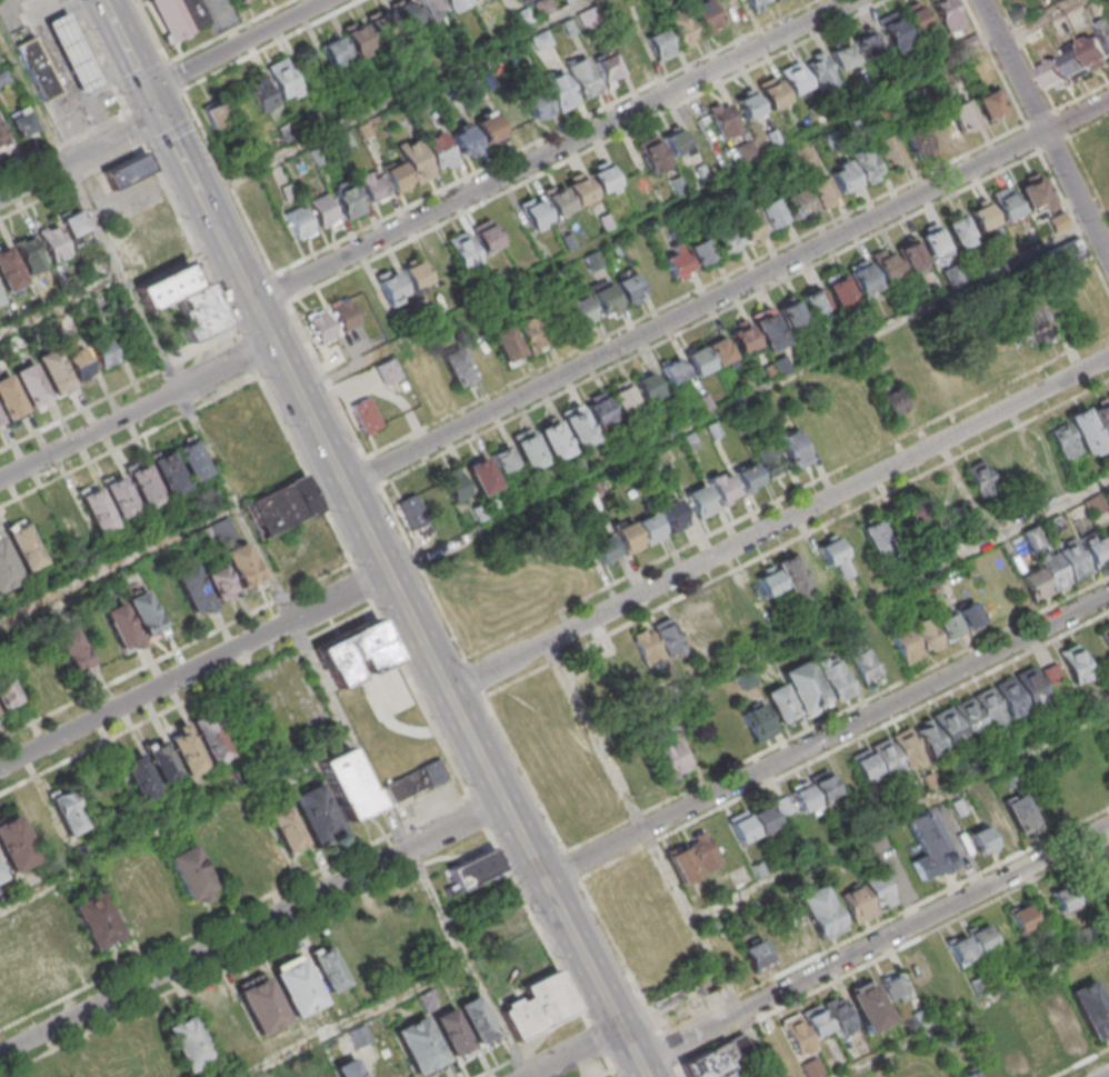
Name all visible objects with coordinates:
building: (773, 0)
building: (779, 0)
building: (240, 1)
building: (567, 1)
building: (457, 3)
building: (757, 4)
building: (541, 7)
building: (431, 8)
building: (731, 9)
road: (76, 10)
building: (404, 14)
building: (587, 16)
building: (707, 16)
building: (947, 16)
building: (179, 17)
building: (520, 17)
building: (902, 27)
building: (381, 28)
building: (570, 28)
building: (682, 28)
building: (1105, 28)
road: (152, 31)
road: (227, 31)
building: (358, 39)
building: (540, 39)
road: (91, 40)
building: (865, 42)
building: (659, 43)
road: (237, 44)
road: (271, 44)
building: (73, 51)
building: (333, 52)
building: (631, 54)
building: (841, 54)
building: (1086, 54)
road: (132, 58)
road: (6, 59)
road: (996, 62)
building: (38, 68)
building: (608, 68)
road: (108, 72)
building: (822, 73)
road: (142, 74)
road: (174, 74)
building: (1055, 74)
building: (3, 77)
building: (283, 78)
building: (471, 78)
building: (583, 78)
building: (795, 78)
road: (181, 88)
road: (119, 89)
traffic signals: (148, 89)
building: (450, 89)
building: (560, 91)
building: (773, 93)
building: (261, 94)
road: (120, 96)
road: (1082, 97)
road: (396, 98)
building: (424, 102)
building: (536, 102)
building: (990, 102)
road: (190, 103)
building: (748, 106)
road: (1055, 109)
road: (118, 112)
road: (128, 112)
building: (214, 112)
building: (960, 116)
road: (1078, 116)
road: (1041, 117)
traffic signals: (160, 118)
road: (196, 119)
building: (723, 119)
building: (20, 122)
road: (98, 122)
road: (134, 128)
building: (491, 129)
road: (1047, 129)
road: (171, 132)
building: (366, 132)
building: (939, 132)
road: (544, 137)
building: (2, 138)
building: (468, 140)
building: (343, 142)
building: (676, 142)
building: (917, 142)
building: (439, 149)
road: (552, 150)
road: (587, 150)
building: (746, 150)
road: (43, 151)
building: (890, 151)
building: (652, 154)
road: (79, 157)
building: (317, 157)
building: (416, 161)
building: (866, 164)
building: (127, 169)
building: (845, 177)
building: (397, 178)
building: (603, 178)
road: (73, 180)
building: (371, 185)
building: (579, 189)
building: (820, 191)
building: (1036, 192)
road: (236, 195)
road: (690, 197)
building: (348, 198)
building: (558, 201)
building: (797, 201)
building: (1008, 205)
road: (208, 208)
building: (324, 210)
building: (534, 212)
building: (769, 212)
building: (982, 217)
building: (1058, 220)
road: (1099, 220)
road: (1073, 221)
building: (72, 223)
building: (300, 223)
building: (747, 225)
building: (960, 232)
building: (273, 236)
building: (488, 237)
building: (149, 239)
road: (189, 239)
building: (723, 240)
building: (935, 241)
building: (52, 242)
building: (463, 251)
building: (1068, 251)
building: (911, 252)
building: (29, 255)
building: (686, 256)
building: (591, 260)
building: (888, 266)
building: (9, 269)
building: (416, 276)
building: (863, 278)
building: (390, 286)
building: (167, 287)
building: (628, 287)
road: (281, 288)
building: (840, 290)
road: (696, 292)
building: (603, 298)
building: (813, 301)
road: (61, 305)
road: (696, 308)
building: (201, 310)
building: (578, 312)
building: (790, 312)
building: (344, 313)
road: (710, 319)
road: (266, 321)
building: (320, 326)
building: (1040, 326)
building: (769, 331)
building: (530, 333)
building: (743, 338)
building: (504, 341)
road: (1081, 345)
building: (102, 350)
building: (698, 360)
building: (79, 363)
building: (459, 369)
building: (53, 370)
building: (672, 370)
building: (387, 371)
road: (324, 379)
building: (30, 383)
building: (647, 386)
building: (621, 396)
building: (9, 397)
road: (741, 401)
building: (890, 401)
building: (598, 408)
road: (138, 411)
road: (80, 412)
building: (364, 416)
building: (1102, 418)
building: (0, 420)
building: (578, 428)
building: (1086, 430)
building: (553, 440)
road: (129, 442)
building: (795, 450)
building: (530, 451)
building: (502, 458)
building: (192, 459)
building: (768, 460)
road: (369, 469)
building: (169, 472)
building: (481, 473)
building: (747, 476)
building: (979, 478)
building: (454, 483)
building: (144, 486)
building: (721, 487)
building: (119, 495)
building: (432, 498)
building: (700, 501)
building: (1095, 505)
building: (281, 507)
building: (97, 510)
building: (411, 510)
road: (760, 510)
building: (672, 516)
building: (916, 516)
road: (779, 523)
building: (203, 536)
building: (873, 536)
building: (133, 538)
building: (628, 538)
road: (798, 539)
building: (24, 546)
building: (1096, 548)
building: (600, 550)
building: (833, 555)
road: (260, 556)
building: (1075, 560)
road: (118, 565)
building: (7, 567)
building: (229, 572)
road: (421, 572)
building: (1045, 576)
building: (782, 578)
building: (192, 588)
road: (492, 590)
road: (852, 609)
building: (144, 614)
building: (957, 620)
building: (121, 626)
building: (1105, 635)
building: (667, 637)
building: (906, 642)
building: (647, 646)
building: (72, 649)
building: (353, 654)
building: (1073, 664)
road: (194, 667)
building: (866, 668)
building: (1051, 672)
road: (474, 676)
building: (838, 681)
road: (412, 682)
road: (446, 686)
building: (803, 686)
building: (1031, 687)
building: (7, 691)
building: (1011, 697)
building: (781, 705)
building: (990, 707)
road: (838, 715)
building: (970, 717)
building: (759, 722)
building: (949, 728)
building: (208, 736)
road: (826, 737)
building: (928, 738)
building: (908, 747)
building: (183, 748)
building: (159, 759)
building: (671, 759)
building: (863, 766)
road: (524, 771)
building: (138, 775)
building: (412, 780)
building: (346, 782)
building: (822, 785)
building: (801, 797)
building: (782, 806)
building: (64, 811)
building: (316, 814)
road: (899, 814)
road: (174, 821)
building: (751, 824)
road: (642, 827)
building: (1002, 827)
building: (286, 829)
building: (16, 844)
building: (928, 845)
building: (691, 858)
road: (572, 864)
building: (474, 868)
building: (191, 874)
building: (0, 876)
building: (1101, 878)
building: (877, 889)
building: (1061, 898)
building: (856, 904)
building: (819, 911)
building: (1020, 918)
building: (96, 919)
road: (885, 919)
road: (251, 927)
building: (798, 930)
building: (509, 931)
building: (970, 943)
road: (875, 944)
building: (761, 953)
road: (620, 955)
building: (26, 957)
building: (918, 967)
building: (328, 969)
building: (706, 984)
building: (298, 987)
building: (892, 987)
building: (3, 988)
building: (534, 1003)
building: (261, 1005)
building: (868, 1005)
road: (973, 1009)
building: (838, 1015)
building: (1076, 1015)
building: (920, 1018)
road: (352, 1020)
building: (476, 1020)
building: (803, 1028)
building: (452, 1034)
building: (359, 1037)
road: (596, 1039)
building: (188, 1043)
building: (419, 1045)
road: (631, 1045)
road: (757, 1045)
road: (668, 1047)
road: (534, 1048)
road: (572, 1051)
building: (1015, 1059)
building: (710, 1064)
road: (608, 1065)
building: (991, 1067)
building: (348, 1068)
road: (366, 1068)
road: (679, 1068)
road: (643, 1069)
building: (969, 1073)
building: (327, 1074)
road: (608, 1075)

